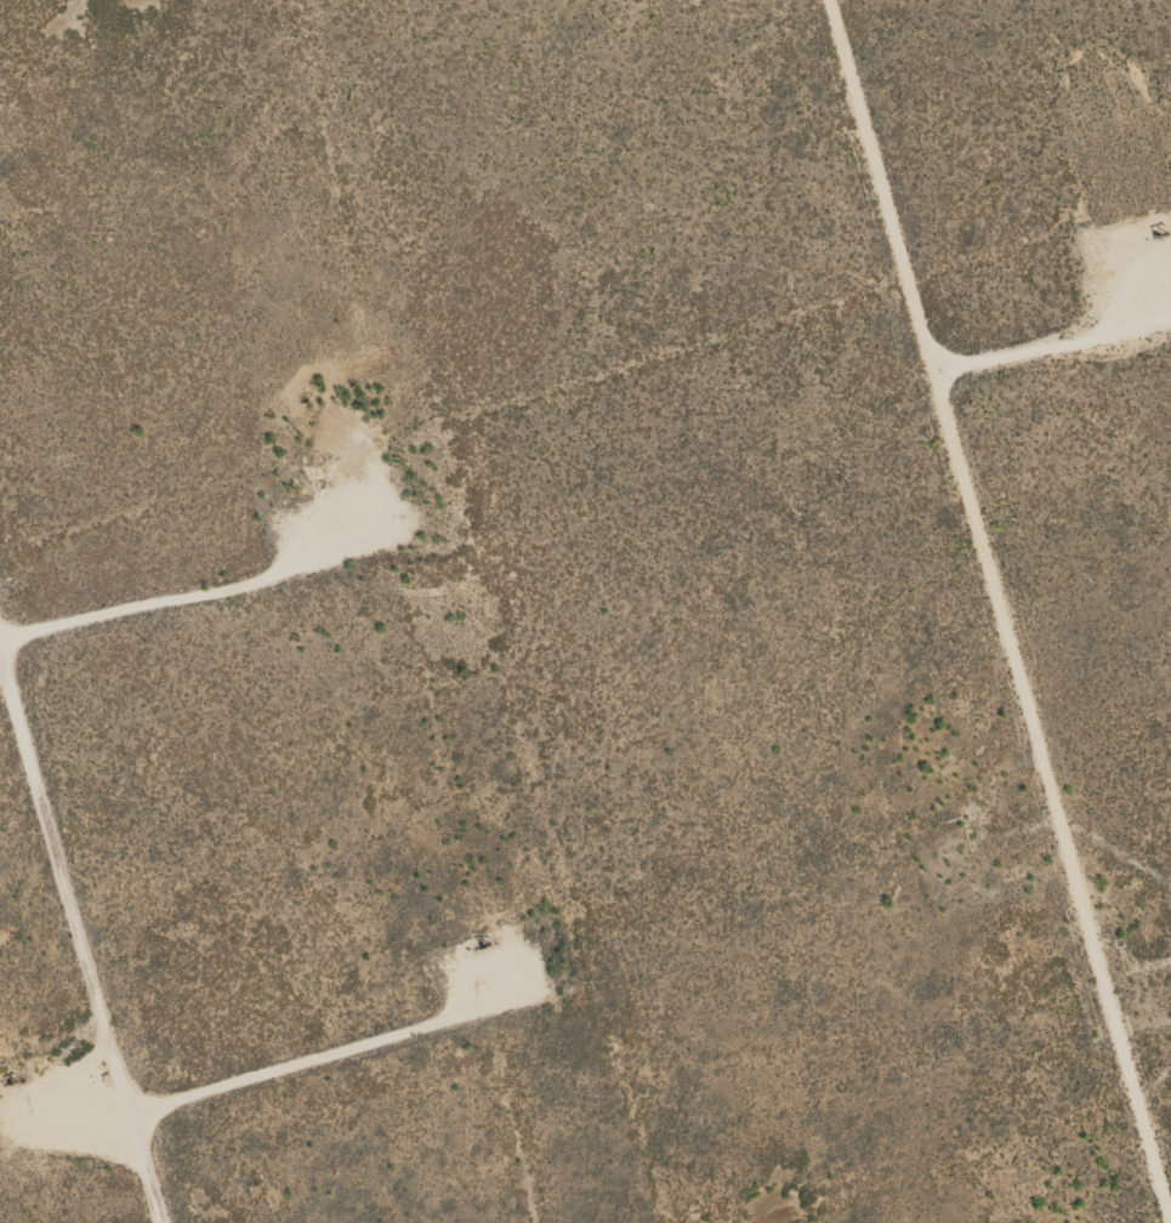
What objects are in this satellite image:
road: (999, 611)
road: (78, 944)

